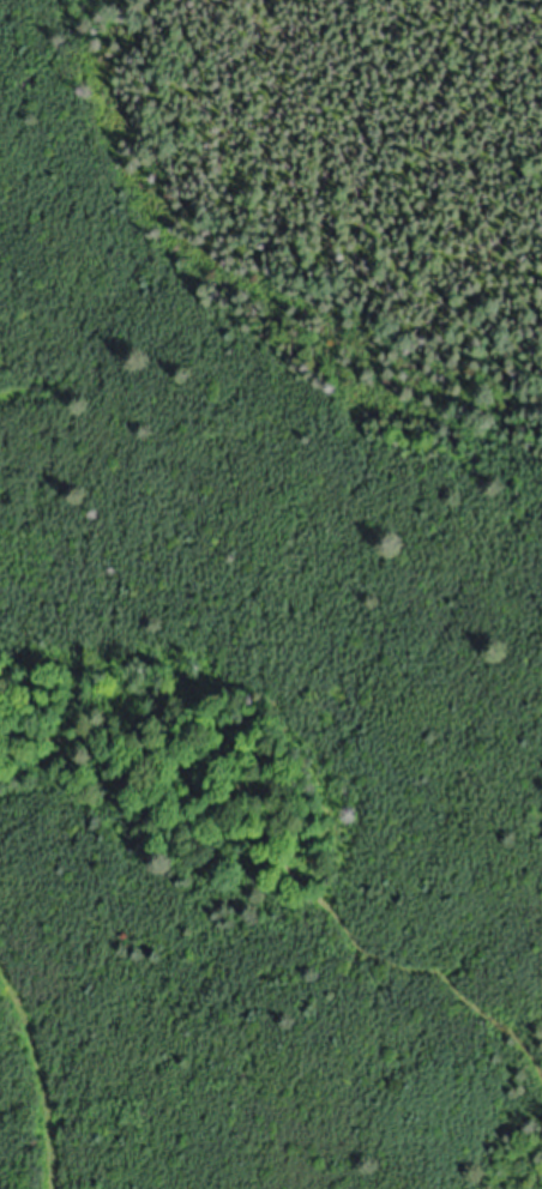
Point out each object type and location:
road: (28, 1082)

